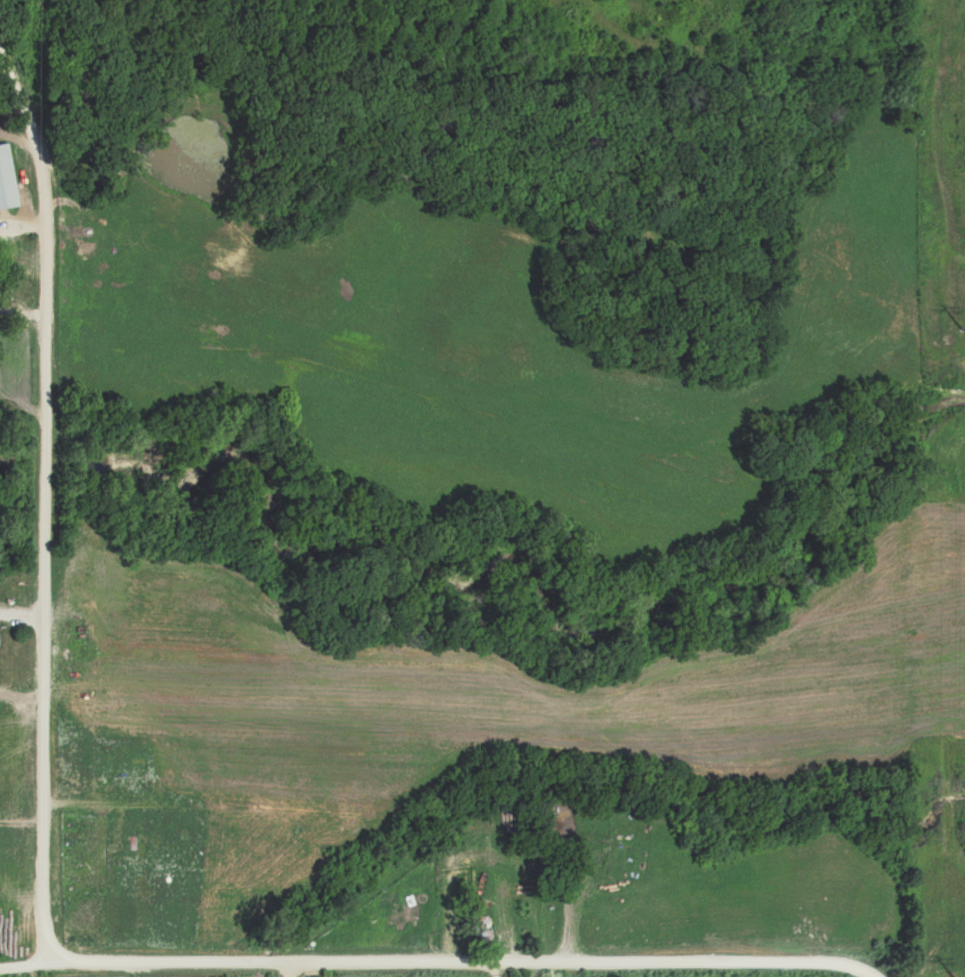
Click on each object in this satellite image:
building: (6, 179)
road: (39, 496)
building: (498, 921)
road: (413, 959)
road: (288, 968)
road: (505, 968)
road: (847, 970)

